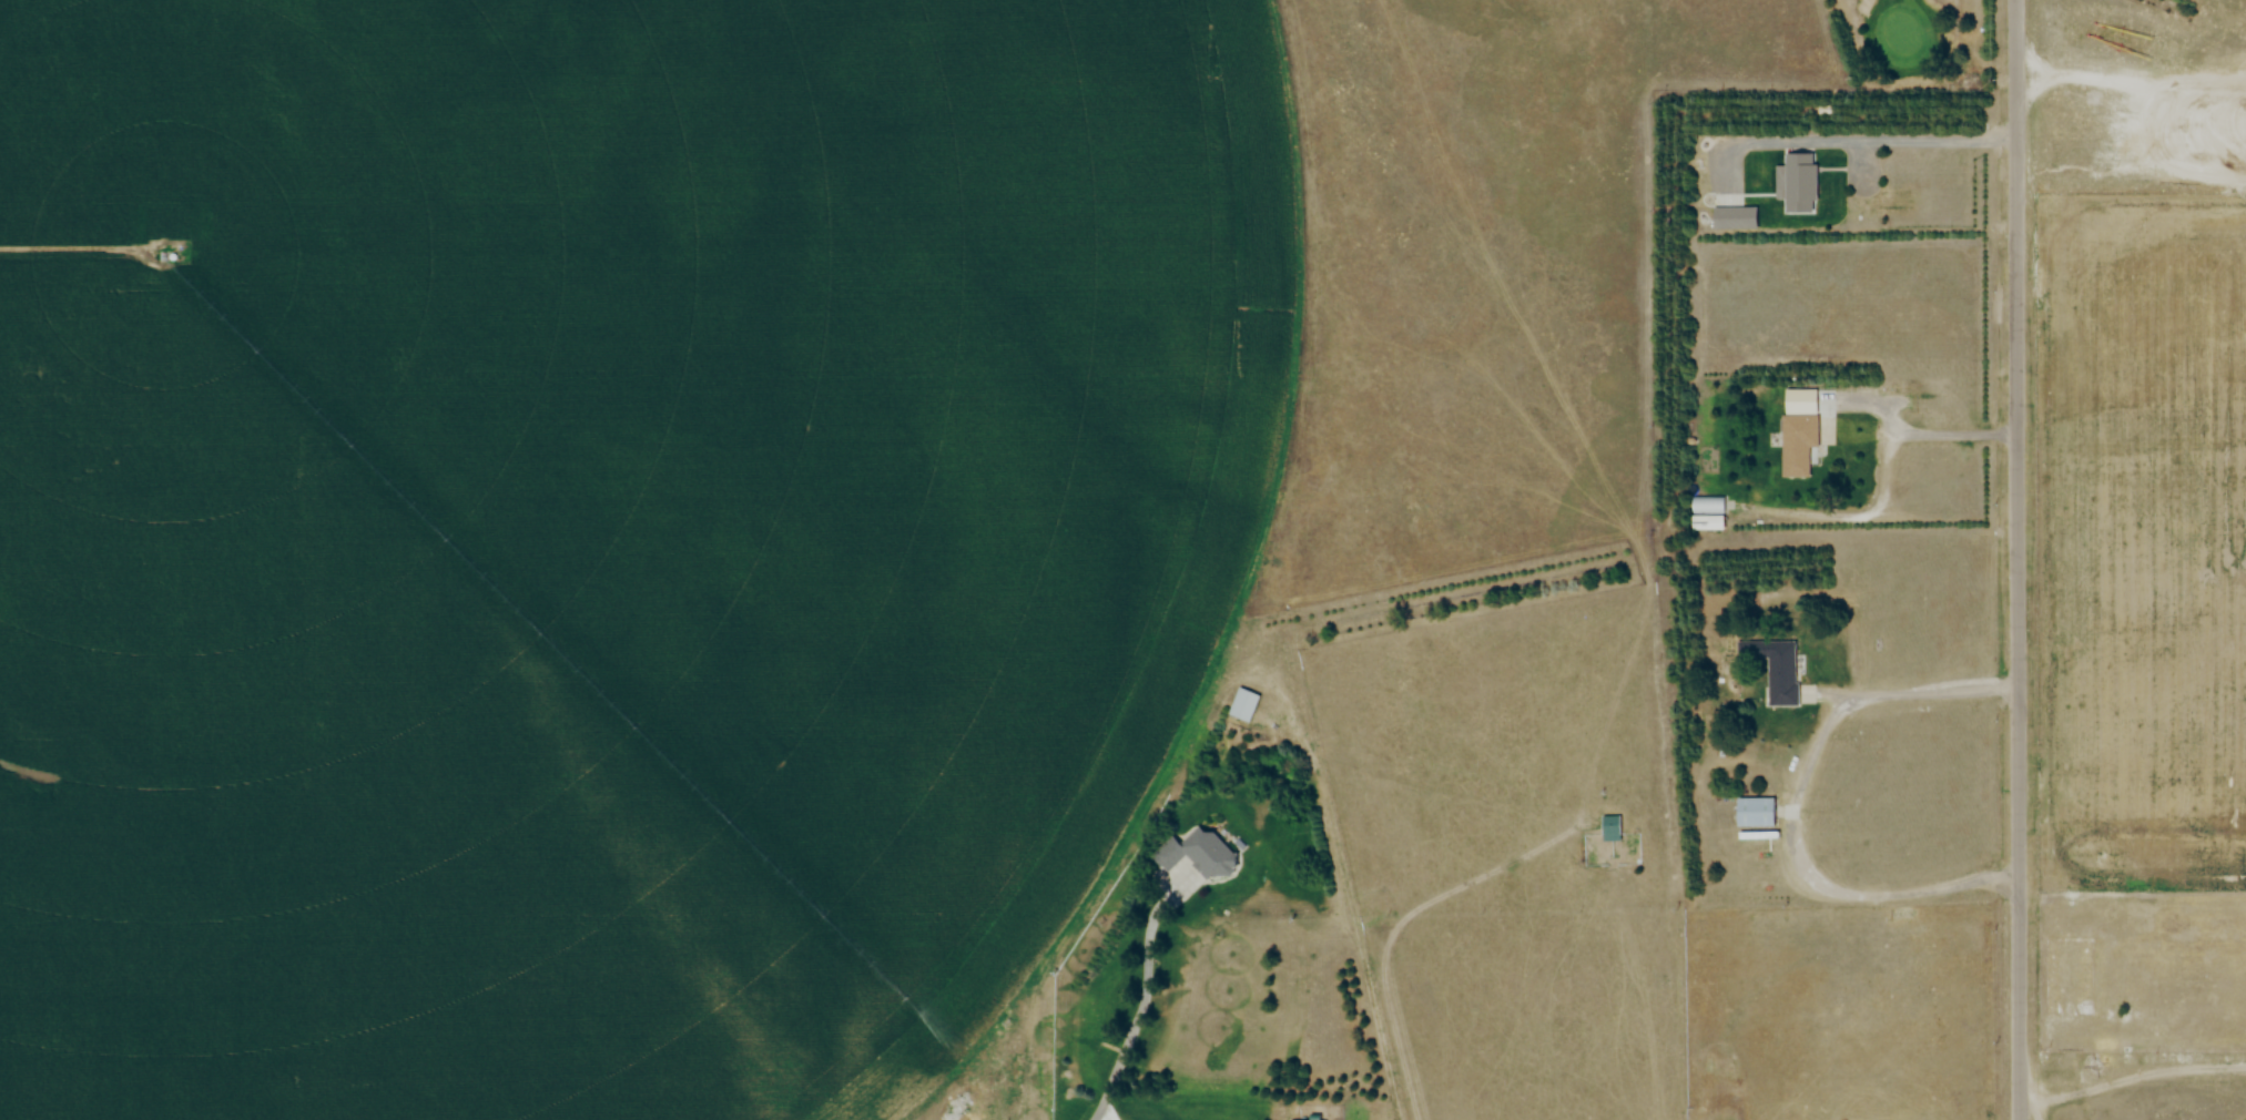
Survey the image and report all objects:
park: (1922, 60)
building: (1796, 184)
road: (1934, 431)
building: (1792, 446)
building: (1707, 506)
road: (2019, 560)
building: (1776, 672)
building: (1248, 703)
building: (1749, 811)
road: (1798, 811)
building: (1610, 828)
building: (1207, 852)
building: (2147, 945)
building: (2065, 977)
road: (1148, 997)
building: (2186, 1077)

